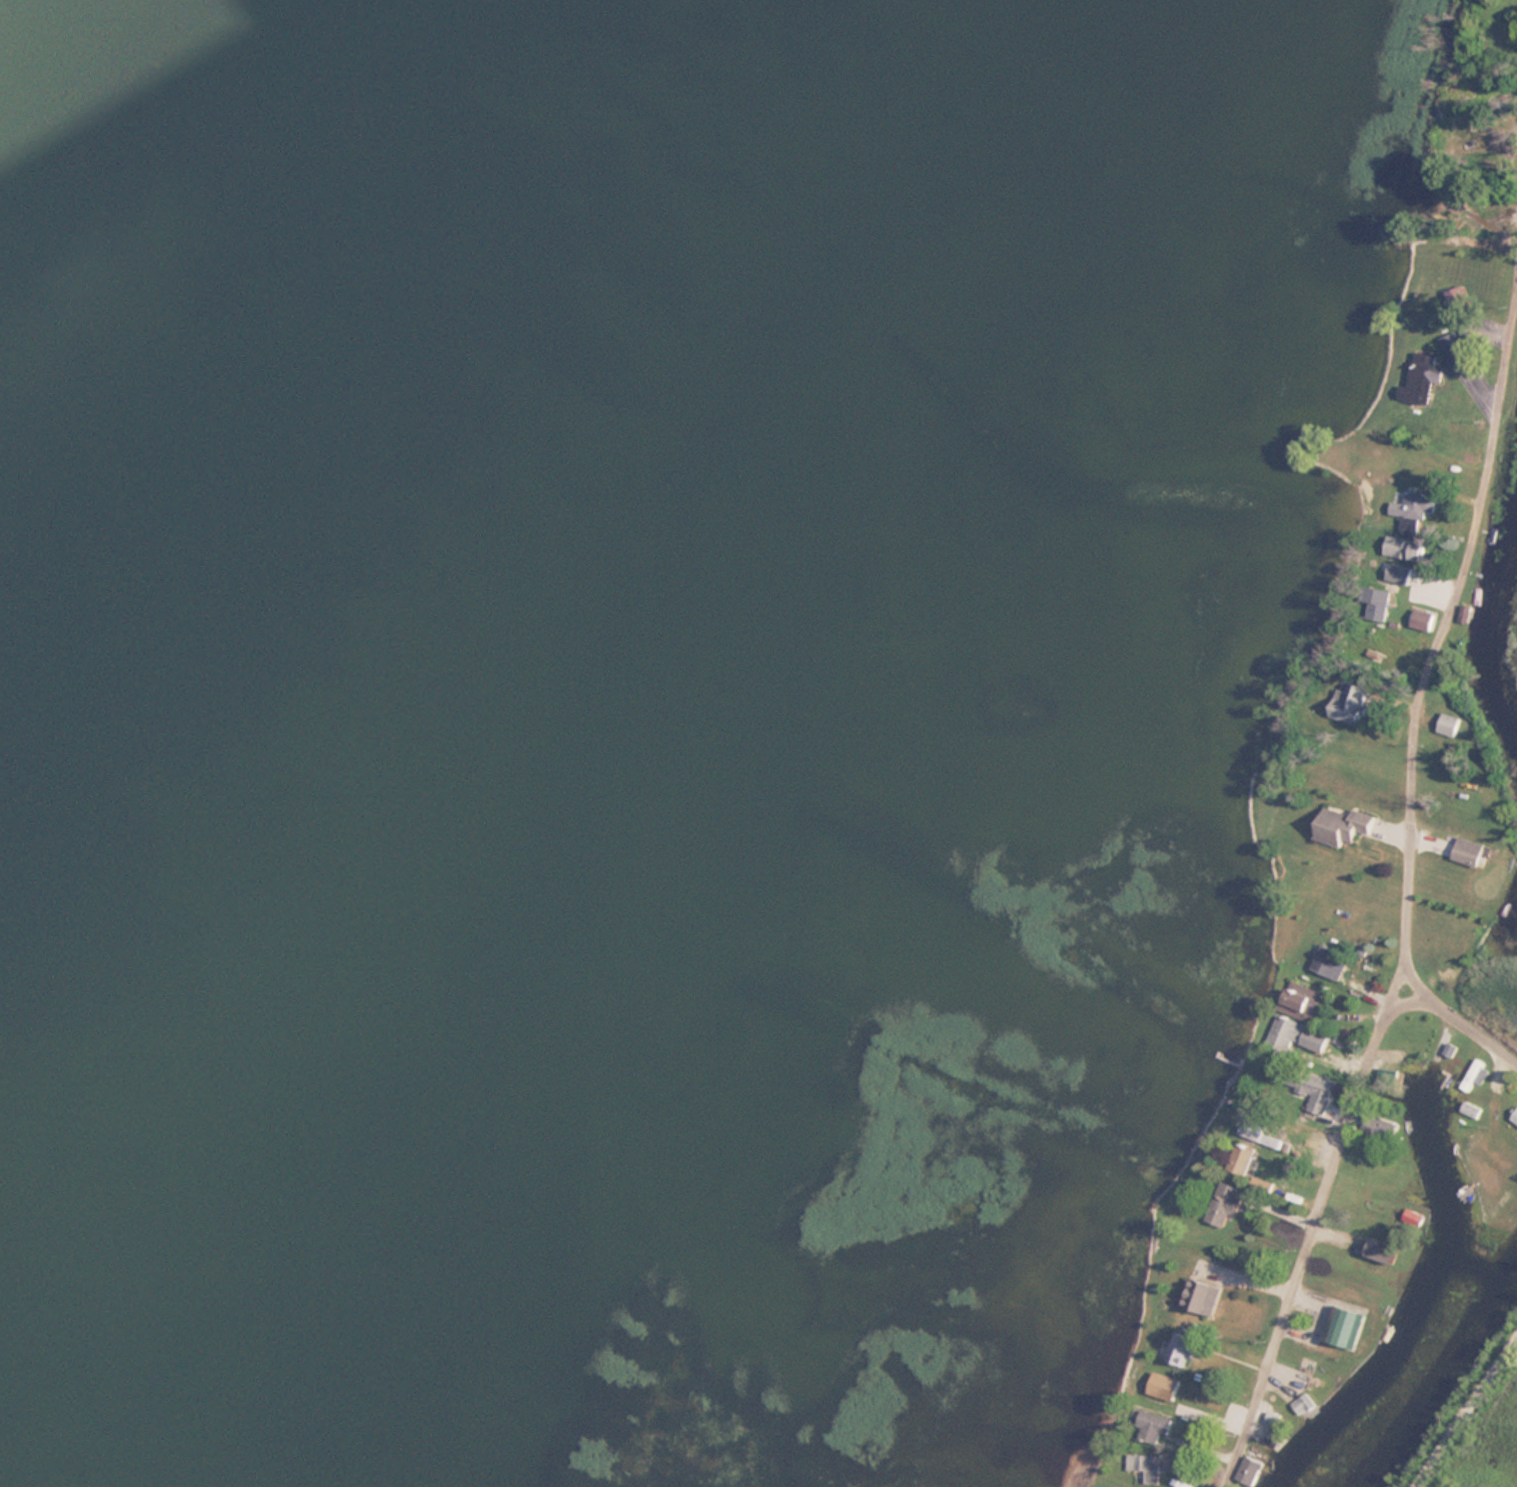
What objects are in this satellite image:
building: (1455, 348)
building: (1426, 368)
building: (1410, 527)
building: (1399, 573)
building: (1377, 604)
building: (1466, 613)
building: (1422, 619)
building: (1349, 702)
building: (1450, 724)
building: (1343, 826)
building: (1468, 852)
road: (1406, 898)
building: (1330, 962)
building: (1300, 1000)
road: (1401, 1003)
road: (1456, 1019)
building: (1283, 1035)
building: (1314, 1039)
building: (1475, 1077)
building: (1310, 1088)
building: (1470, 1109)
building: (1514, 1115)
building: (1238, 1163)
building: (1223, 1203)
building: (1382, 1251)
building: (1201, 1296)
building: (1370, 1321)
building: (1181, 1348)
building: (1163, 1386)
building: (1303, 1403)
road: (1466, 1411)
building: (1153, 1427)
building: (1147, 1467)
building: (1248, 1471)

